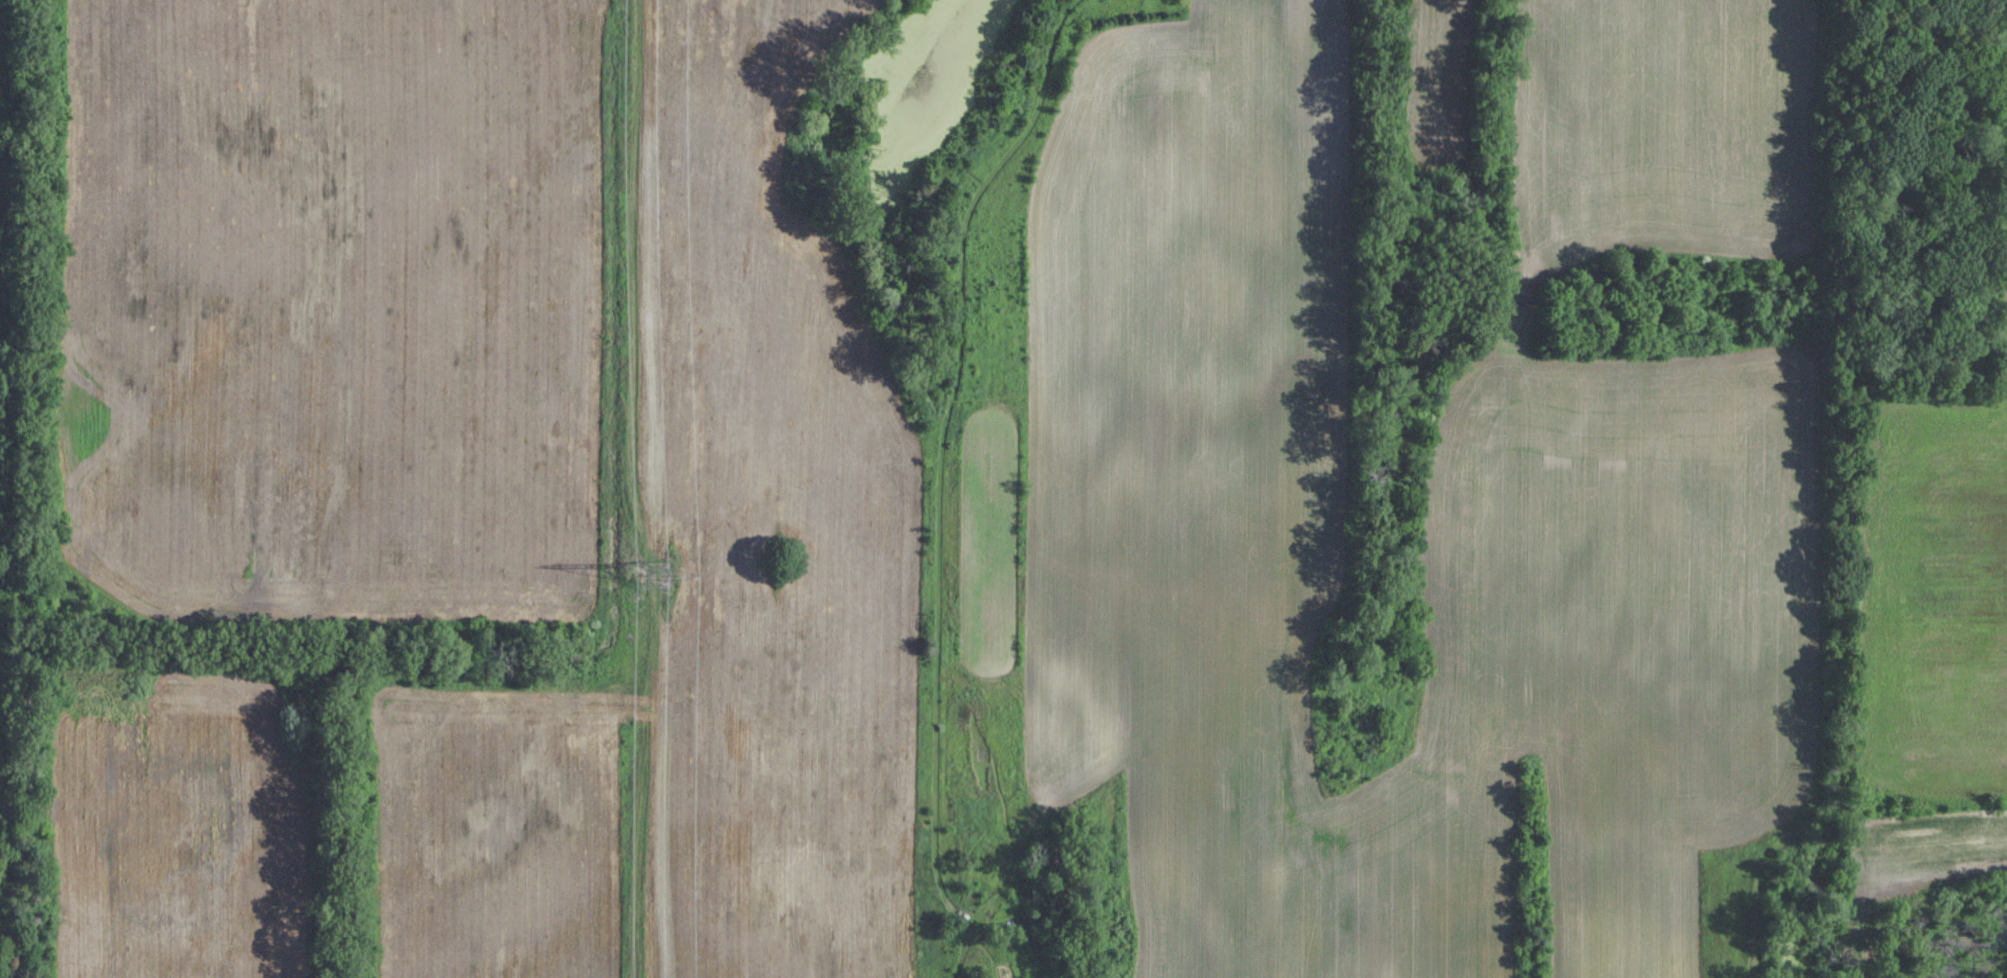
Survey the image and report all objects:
power tower: (650, 572)

